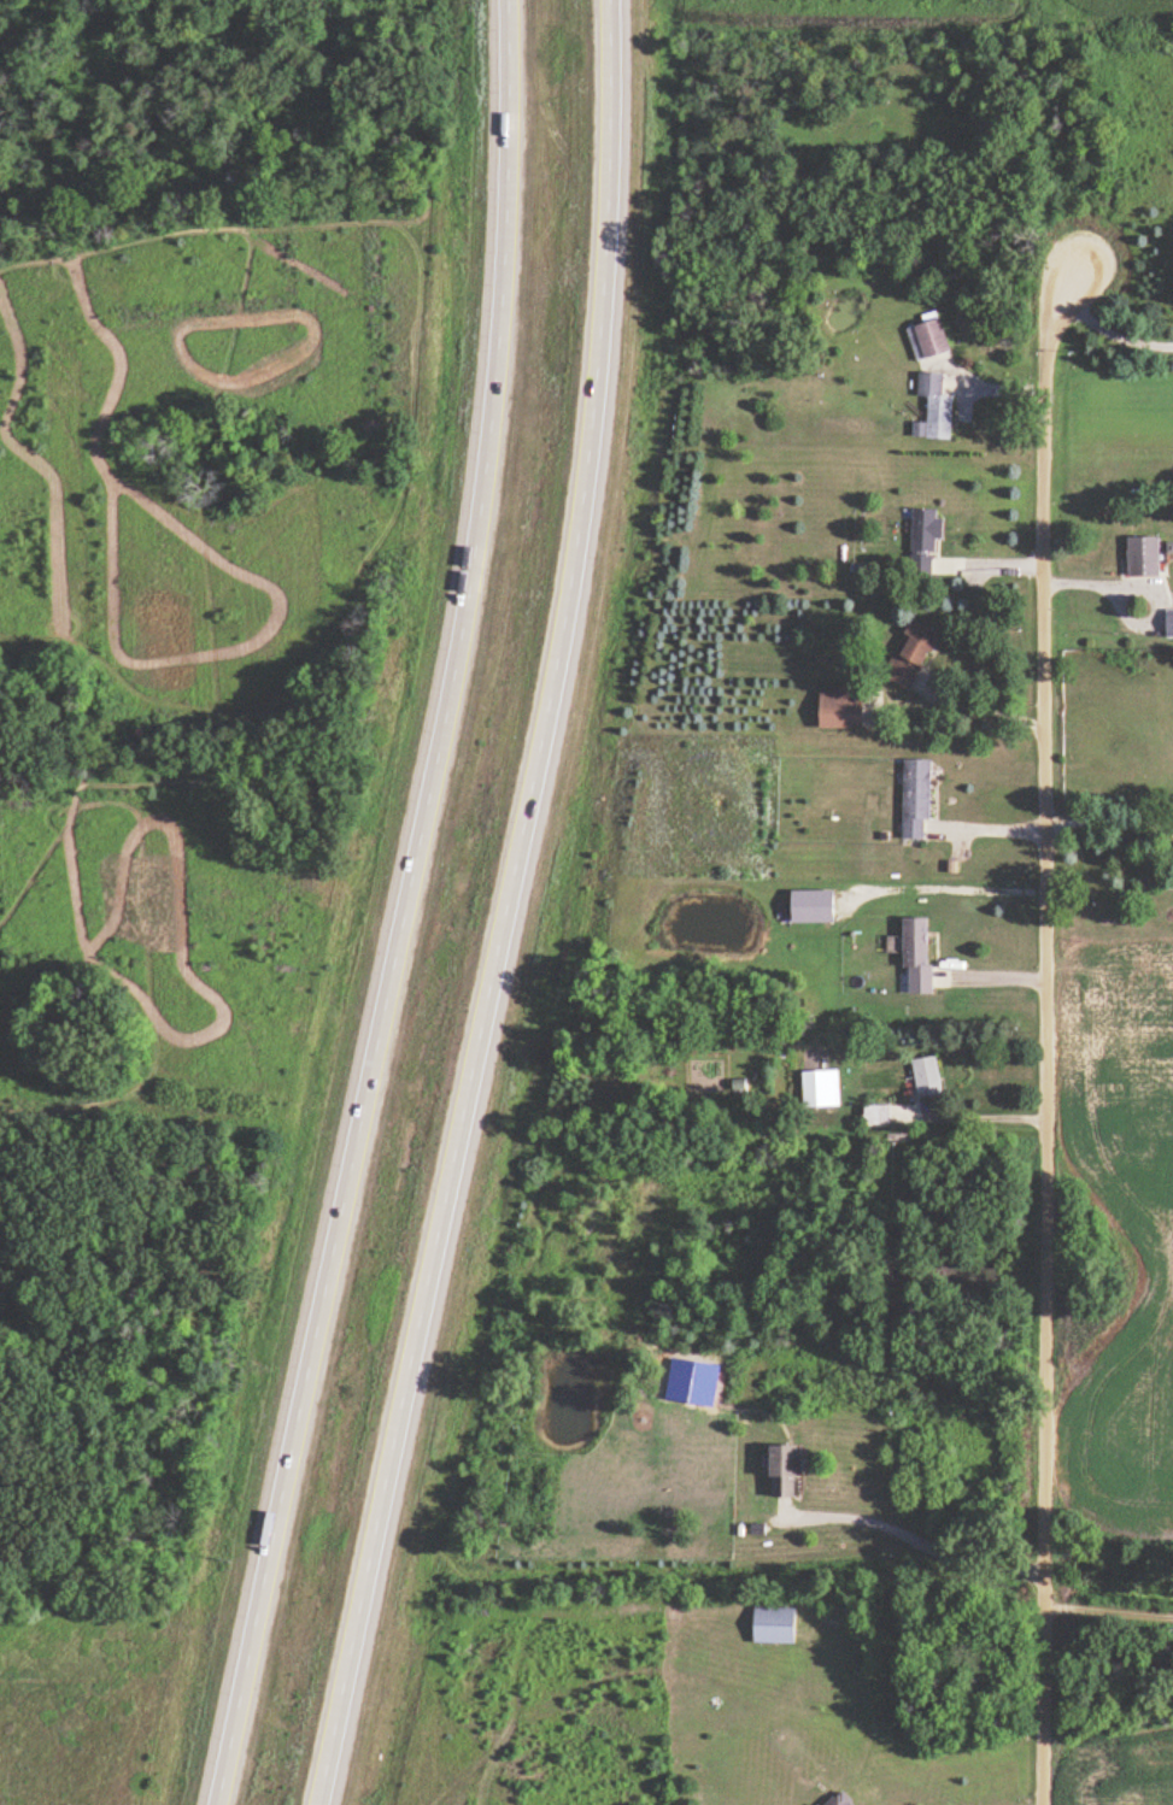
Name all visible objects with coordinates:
road: (1110, 331)
building: (931, 340)
building: (937, 408)
building: (928, 537)
building: (1148, 554)
road: (1145, 586)
road: (1162, 589)
building: (1171, 622)
building: (916, 653)
building: (845, 706)
building: (917, 798)
road: (989, 821)
road: (1108, 821)
road: (410, 907)
road: (515, 907)
building: (920, 954)
road: (1042, 1031)
building: (740, 1083)
road: (980, 1112)
building: (880, 1113)
building: (788, 1470)
road: (909, 1538)
road: (1105, 1610)
building: (772, 1623)
building: (840, 1799)

